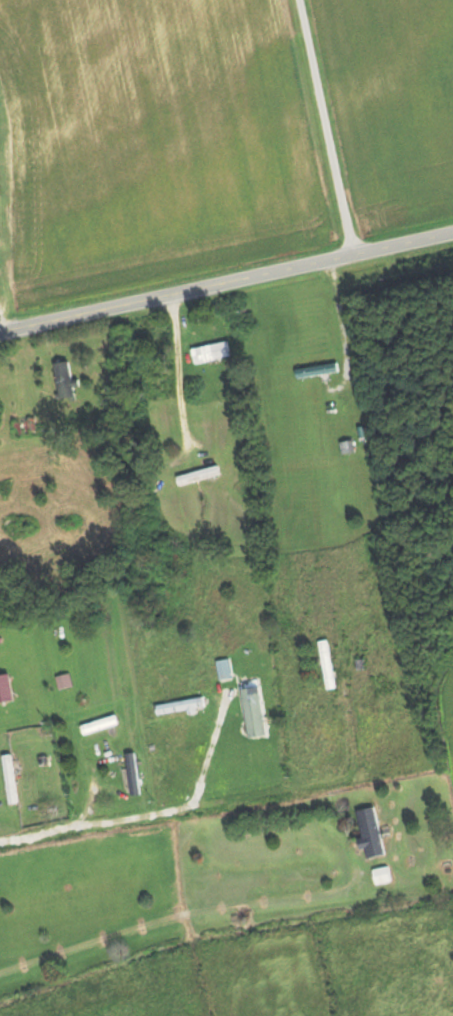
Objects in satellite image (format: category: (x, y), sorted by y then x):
road: (323, 131)
road: (4, 230)
road: (226, 288)
road: (179, 369)
building: (320, 371)
building: (351, 447)
building: (201, 475)
building: (330, 664)
building: (227, 669)
building: (67, 681)
building: (7, 689)
building: (183, 706)
building: (258, 712)
building: (102, 724)
building: (136, 774)
building: (13, 780)
road: (187, 809)
building: (374, 833)
building: (386, 876)
road: (178, 915)

